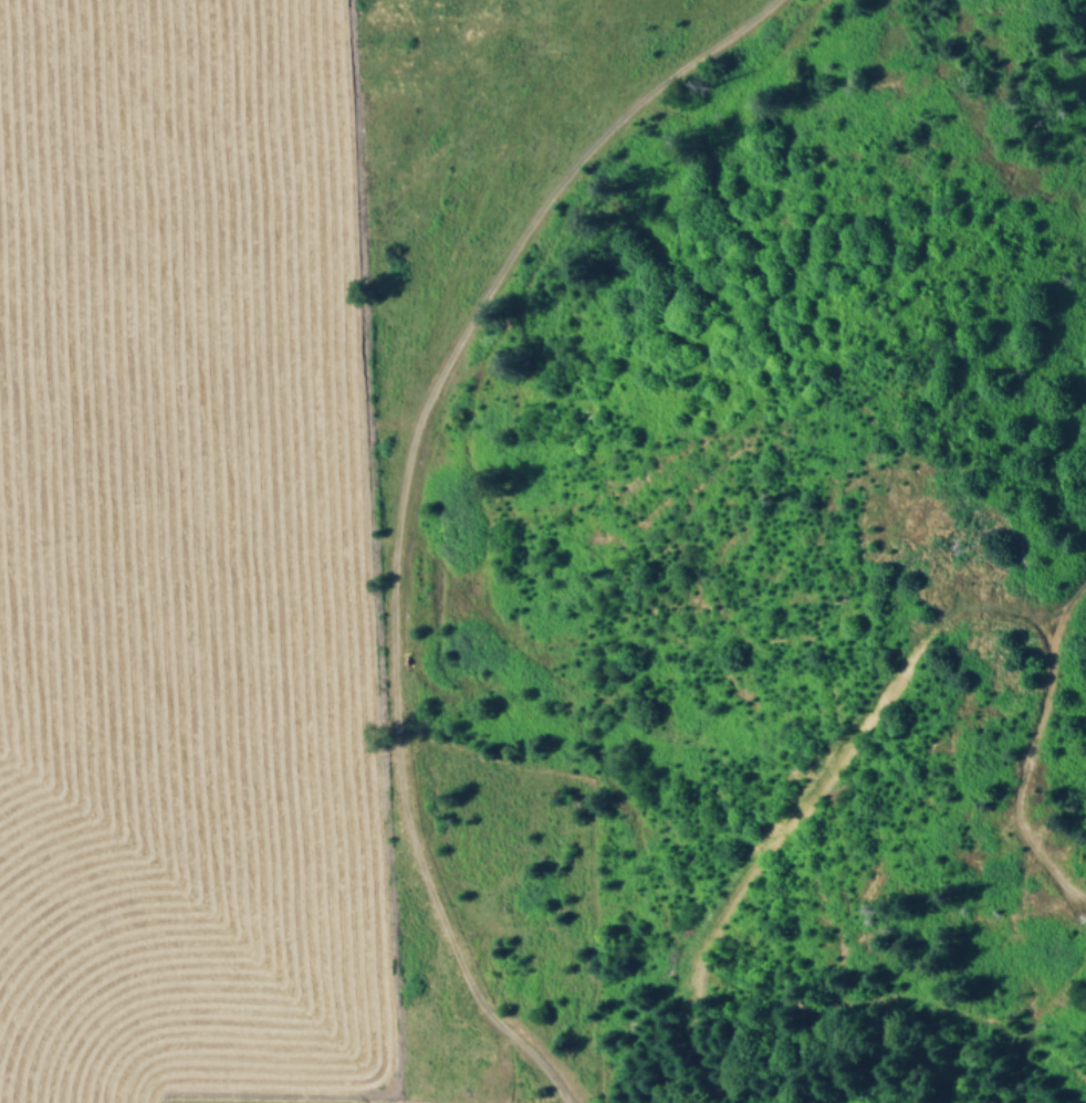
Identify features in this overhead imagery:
crop: (182, 566)

